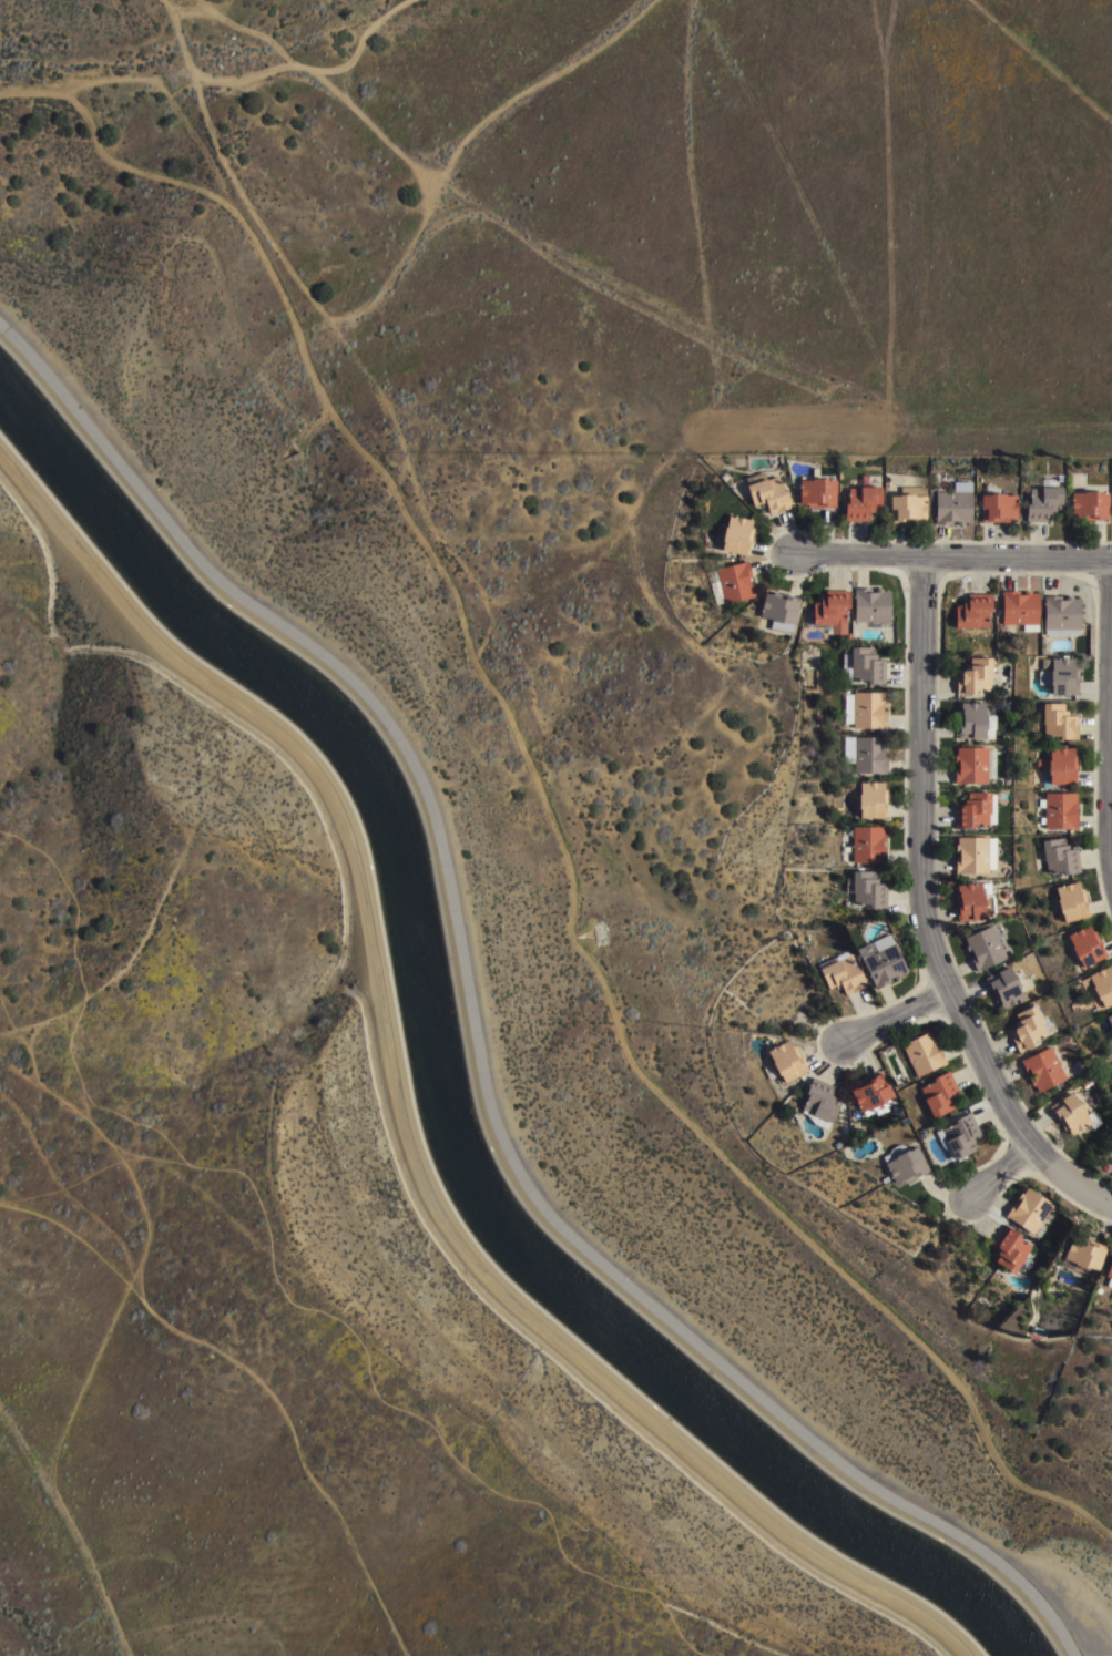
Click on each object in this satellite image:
building: (817, 492)
building: (768, 494)
building: (1043, 500)
building: (861, 502)
building: (1089, 505)
building: (952, 507)
building: (907, 508)
building: (998, 508)
building: (736, 535)
road: (951, 561)
building: (731, 583)
building: (871, 605)
building: (781, 611)
building: (1019, 611)
building: (971, 612)
building: (830, 613)
building: (1060, 616)
building: (861, 666)
building: (973, 676)
building: (1060, 676)
building: (865, 709)
building: (973, 723)
building: (1058, 723)
building: (866, 754)
building: (973, 766)
building: (1058, 768)
building: (873, 800)
building: (1058, 811)
building: (975, 812)
road: (1110, 815)
building: (867, 846)
building: (975, 856)
building: (1059, 858)
building: (866, 890)
building: (972, 902)
building: (1071, 903)
road: (924, 917)
building: (1085, 948)
building: (983, 950)
building: (880, 960)
building: (840, 974)
building: (1102, 988)
building: (1002, 990)
building: (1081, 1003)
road: (896, 1019)
building: (1102, 1024)
building: (1028, 1030)
building: (1109, 1030)
road: (475, 1037)
building: (922, 1055)
building: (784, 1065)
building: (1041, 1071)
building: (1089, 1094)
building: (871, 1096)
building: (940, 1096)
building: (822, 1102)
road: (401, 1110)
building: (1072, 1117)
building: (959, 1139)
building: (907, 1168)
road: (998, 1174)
building: (1028, 1207)
building: (1012, 1249)
building: (1083, 1253)
building: (1110, 1272)
road: (257, 1376)
road: (86, 1379)
road: (70, 1529)

